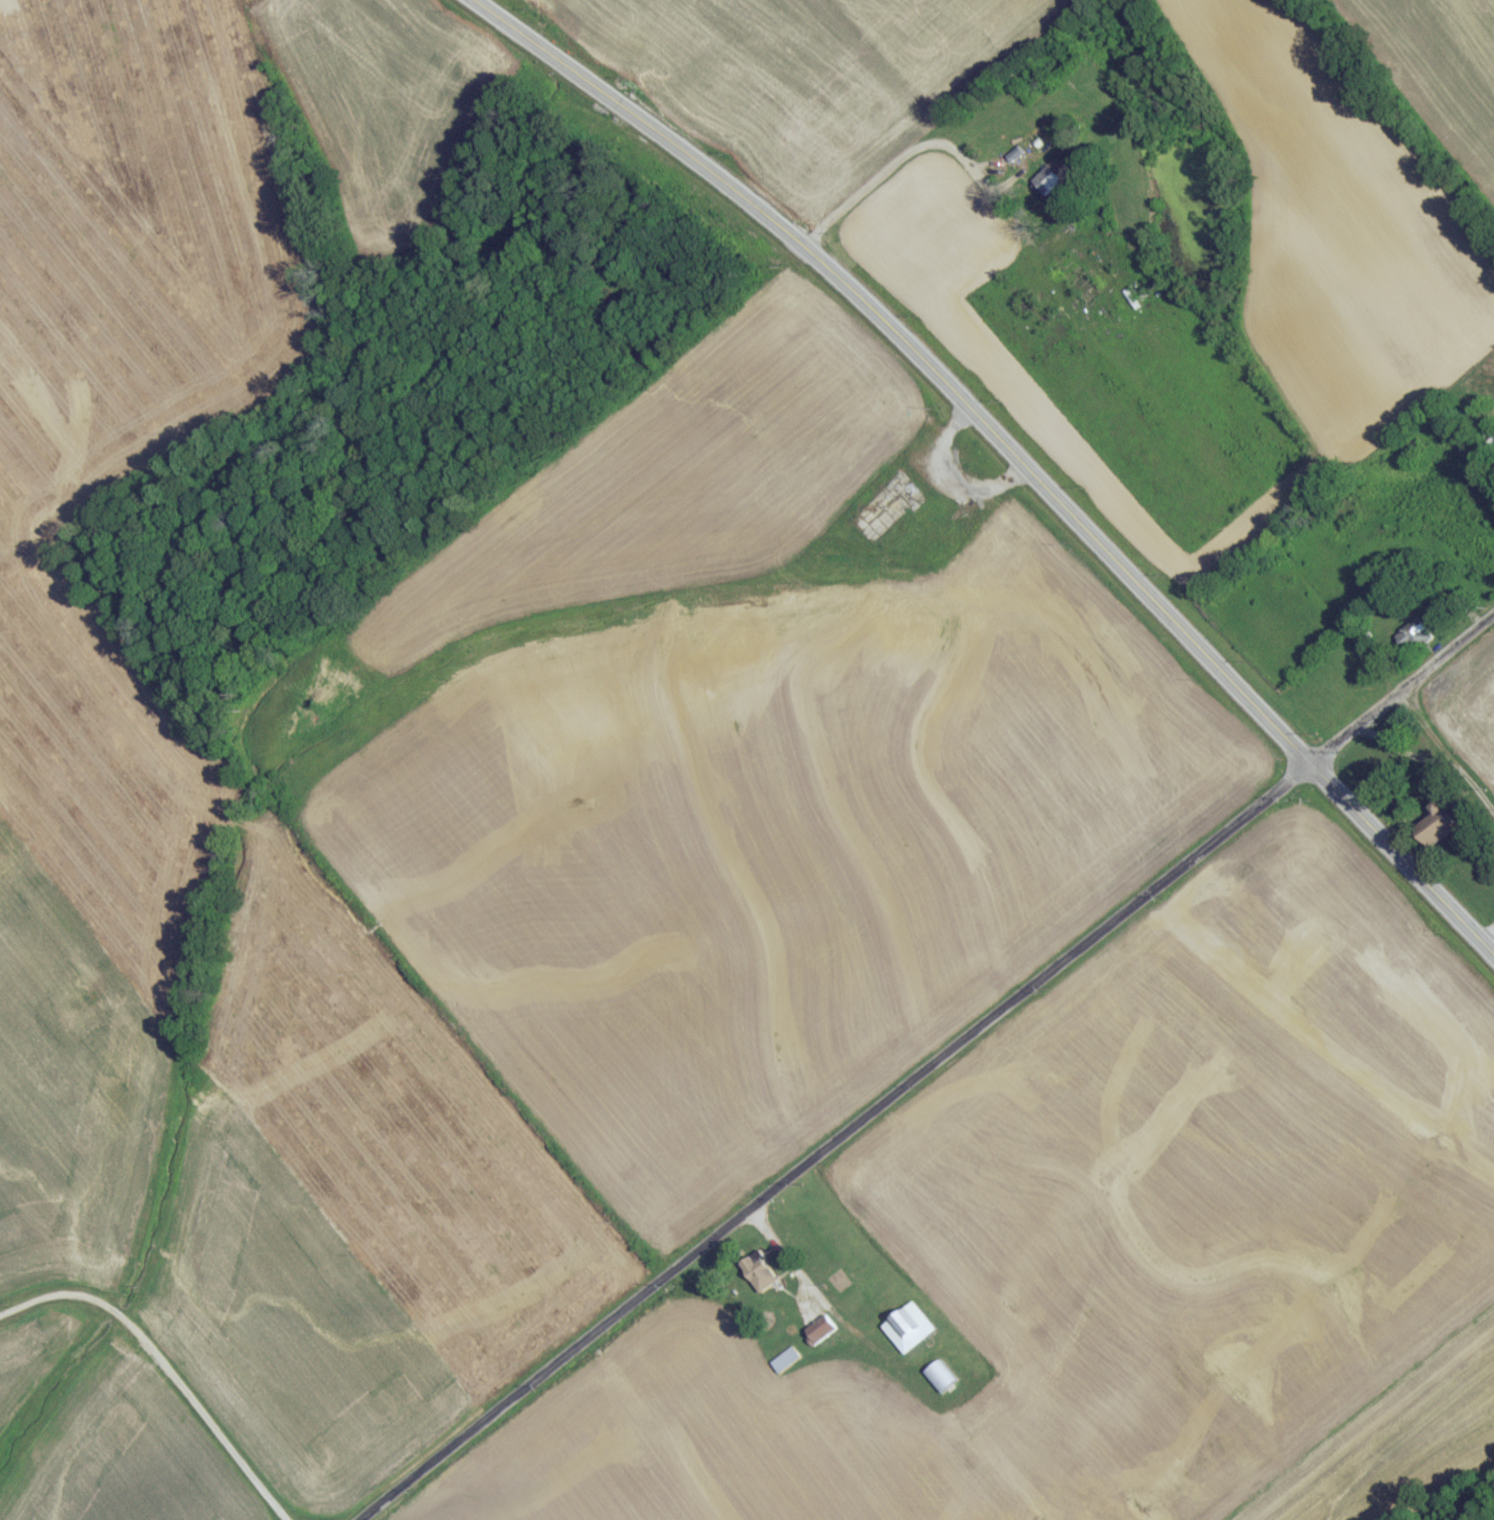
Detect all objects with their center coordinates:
road: (888, 180)
building: (1050, 183)
building: (1078, 283)
road: (1005, 452)
building: (1413, 641)
road: (1403, 695)
road: (1436, 762)
building: (1440, 831)
road: (1484, 933)
road: (823, 1133)
building: (760, 1276)
building: (910, 1333)
building: (822, 1334)
road: (172, 1362)
building: (786, 1366)
building: (940, 1382)

